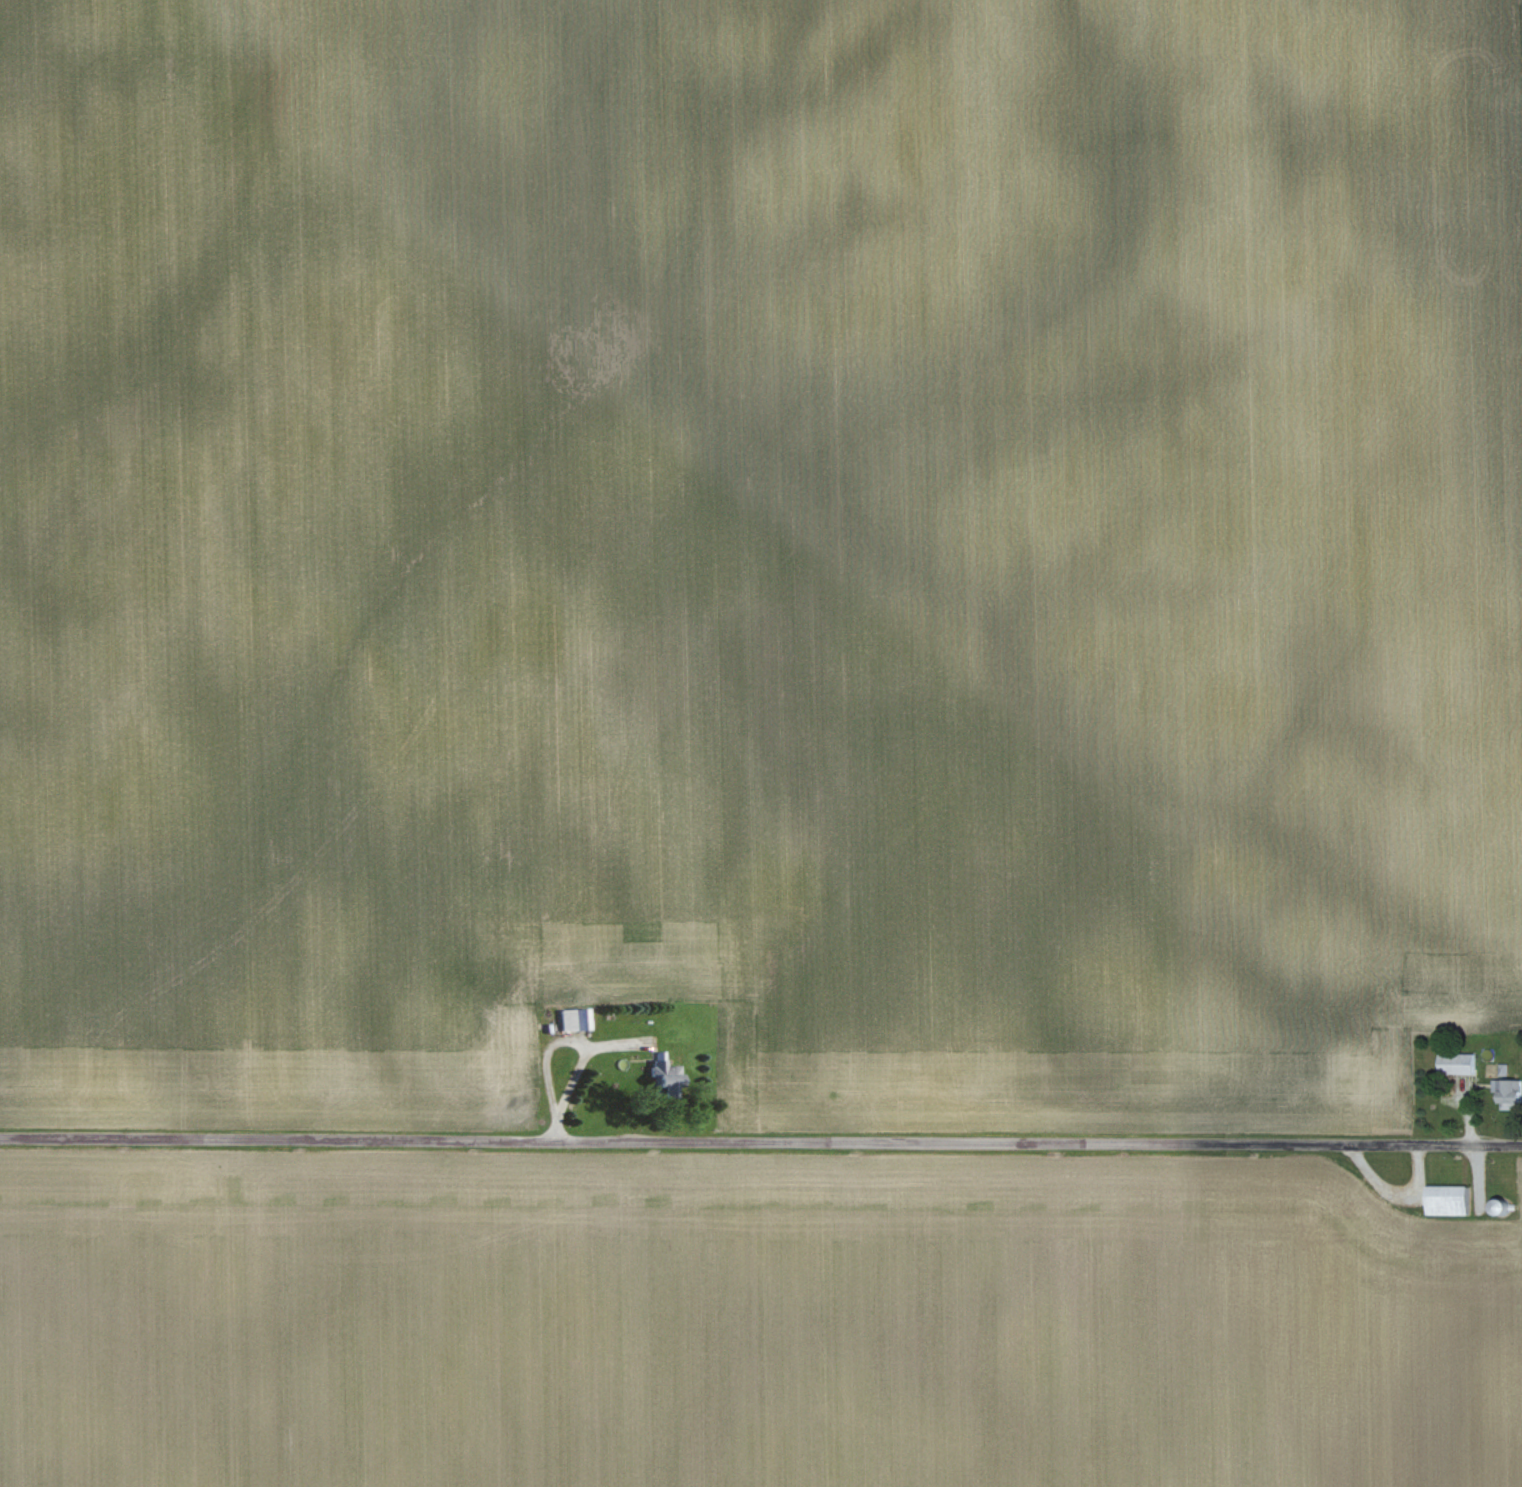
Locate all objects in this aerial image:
building: (575, 1018)
building: (1455, 1063)
building: (667, 1076)
building: (1506, 1094)
road: (761, 1139)
building: (1445, 1200)

